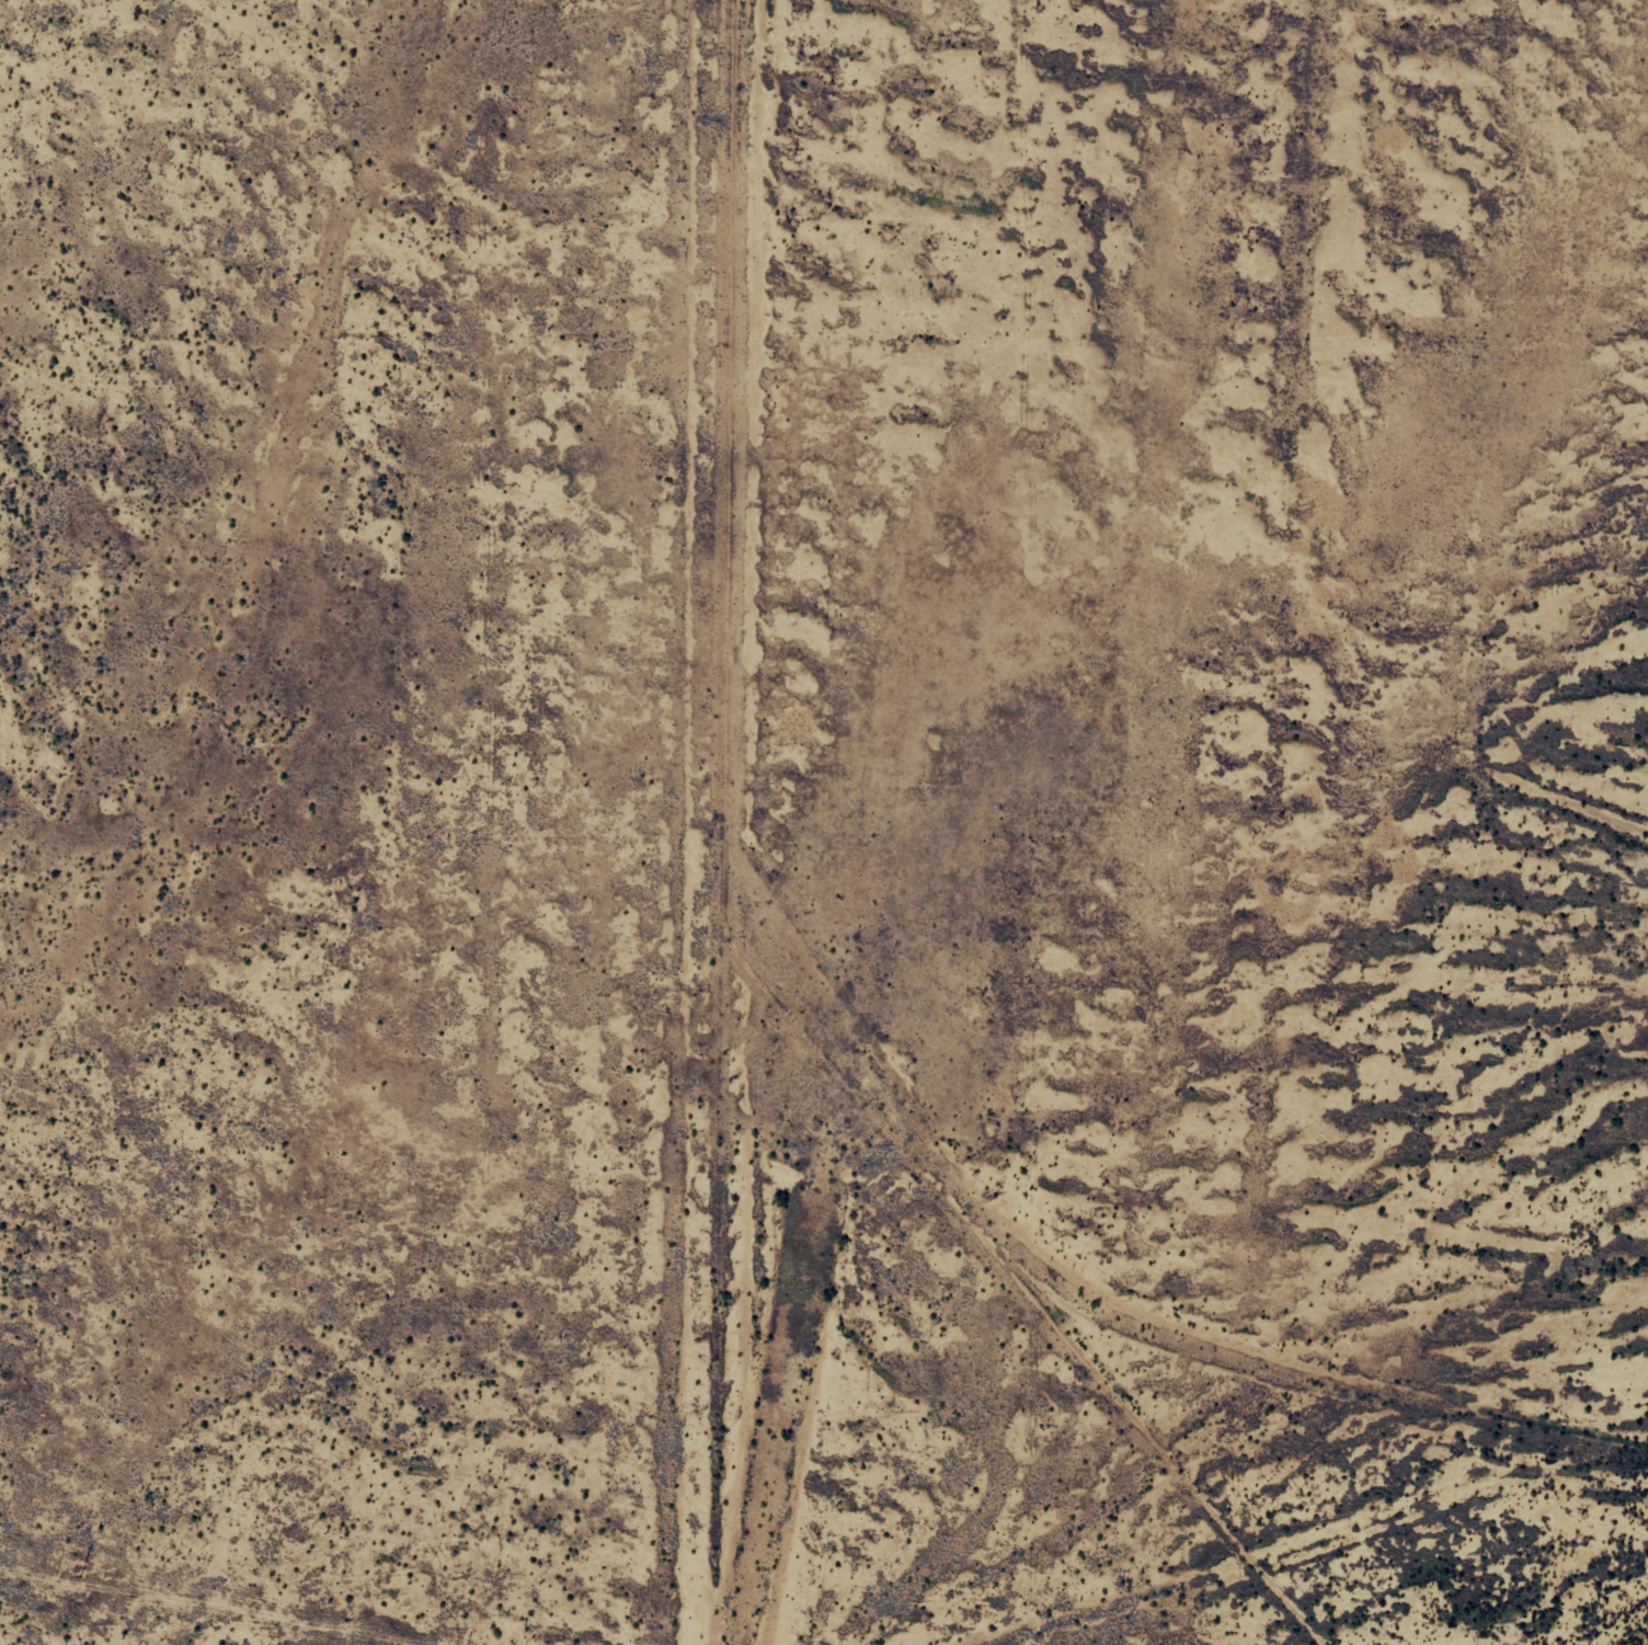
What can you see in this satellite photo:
power tower: (83, 1570)

